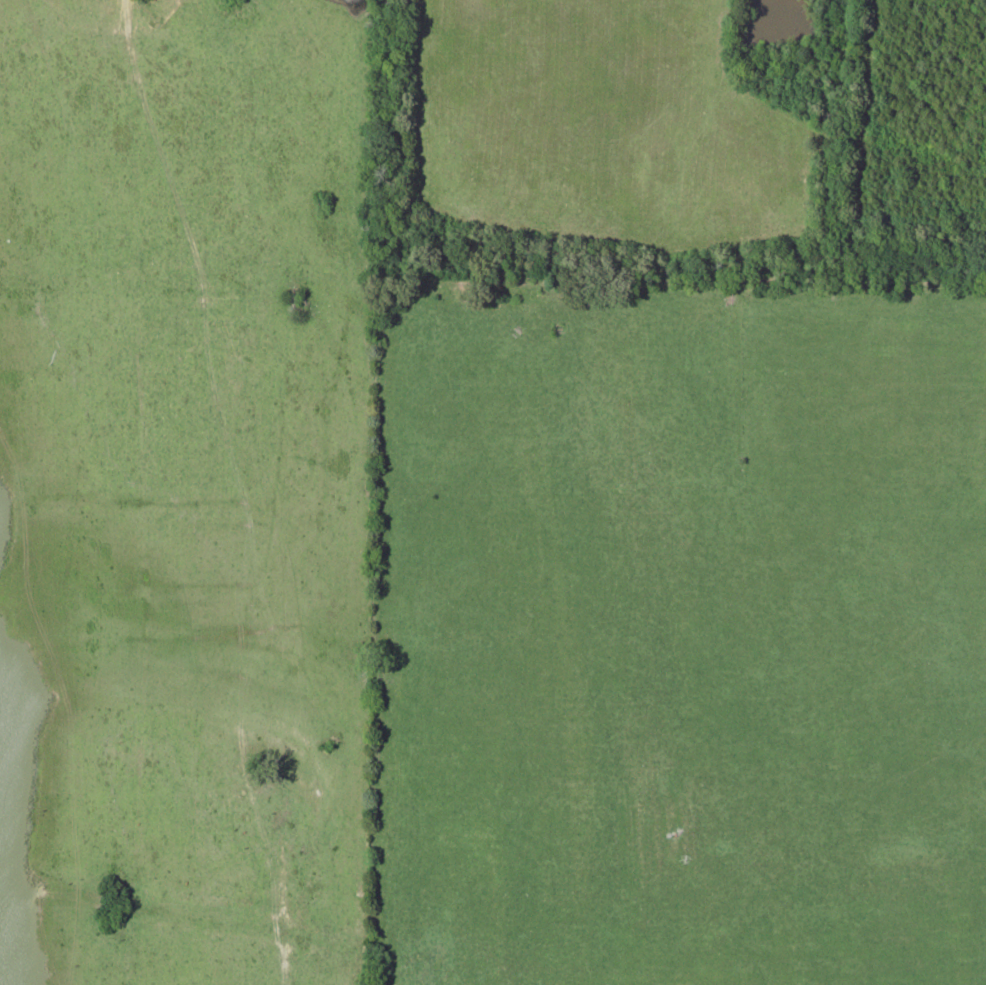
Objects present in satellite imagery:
building: (719, 845)

